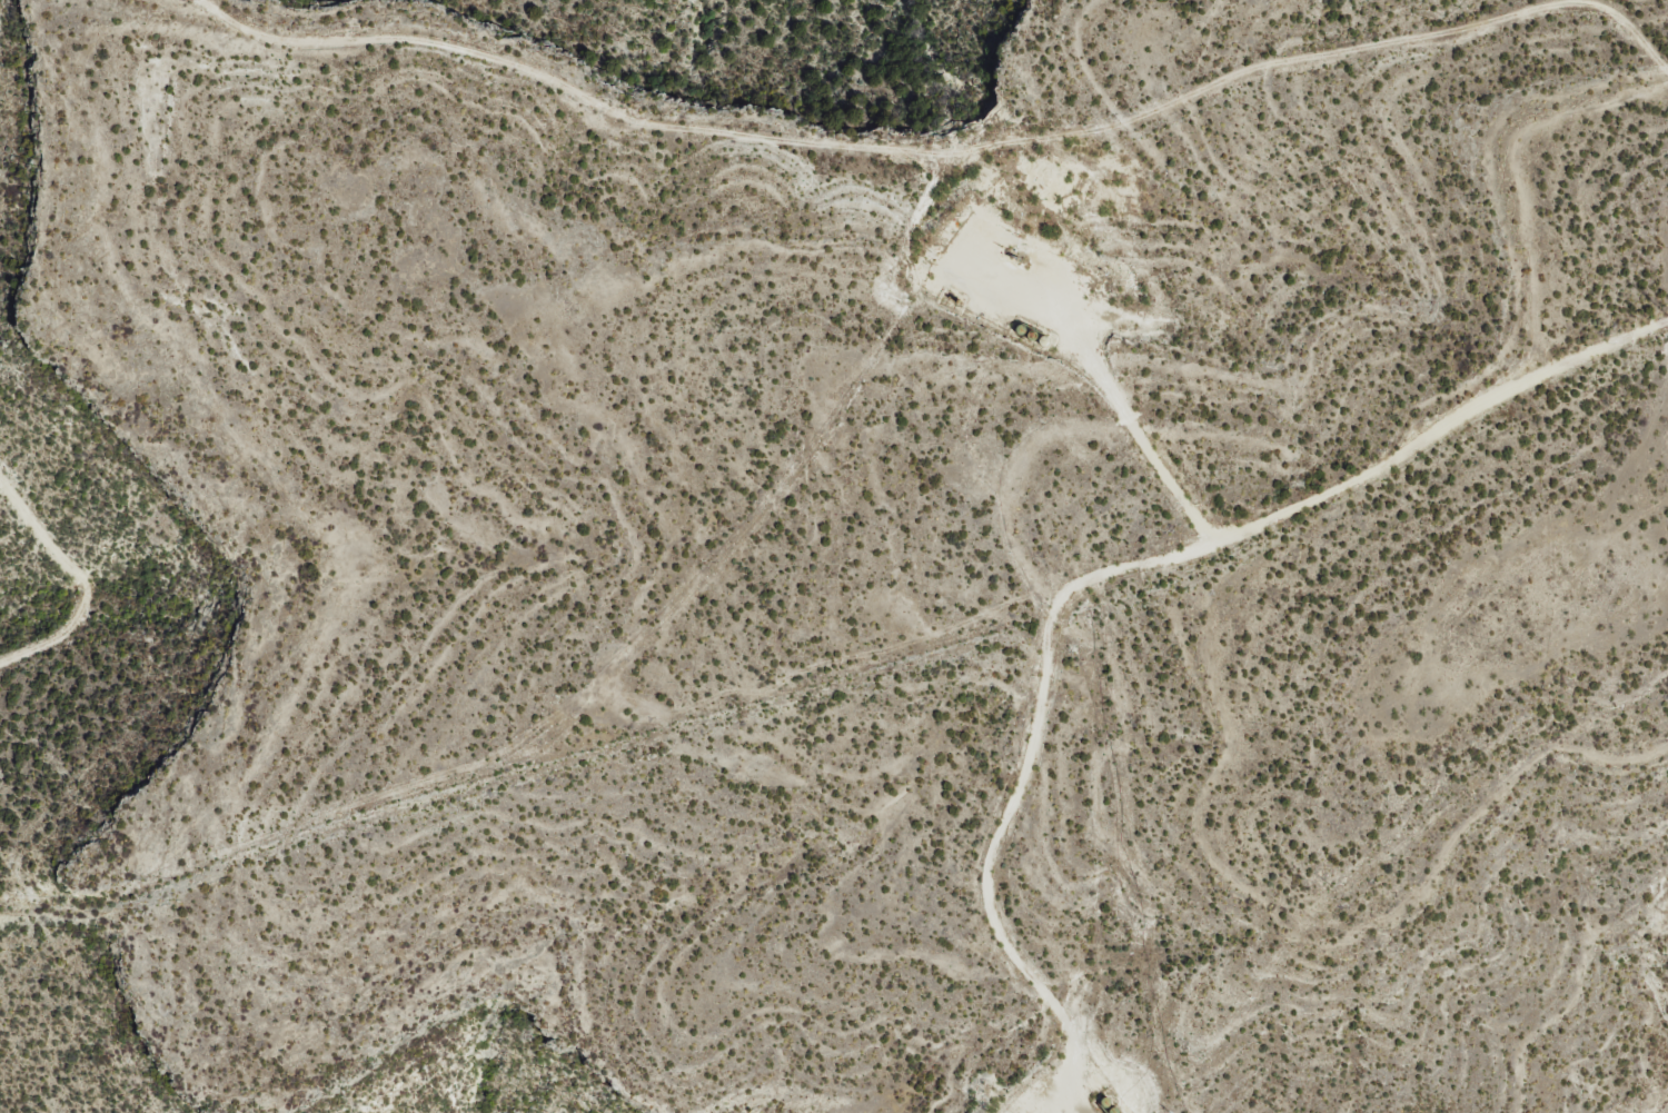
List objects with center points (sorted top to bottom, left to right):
road: (906, 197)
road: (66, 599)

